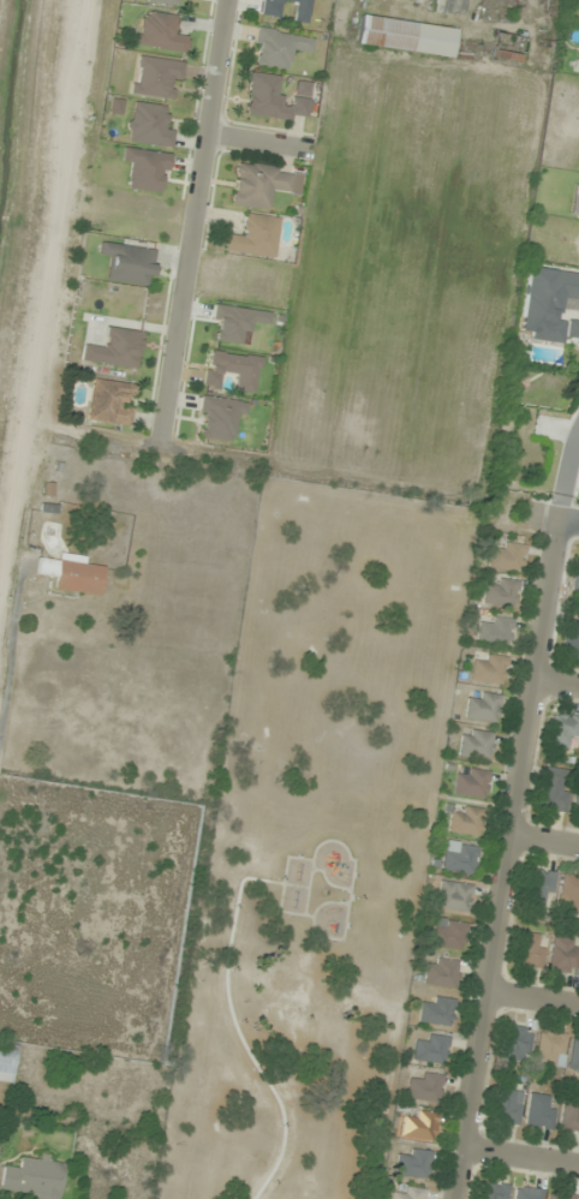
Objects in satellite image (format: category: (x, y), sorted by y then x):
building: (165, 2)
building: (160, 32)
building: (405, 36)
building: (276, 48)
building: (155, 77)
building: (276, 97)
building: (147, 125)
road: (257, 141)
building: (147, 169)
building: (261, 184)
road: (192, 217)
building: (253, 237)
building: (129, 263)
building: (115, 350)
building: (232, 370)
building: (109, 402)
building: (219, 417)
road: (566, 471)
road: (569, 517)
building: (506, 556)
building: (71, 573)
building: (575, 575)
building: (501, 593)
building: (496, 632)
building: (572, 638)
road: (10, 639)
building: (489, 669)
road: (555, 684)
building: (483, 706)
building: (563, 730)
building: (474, 745)
building: (470, 782)
building: (554, 789)
building: (575, 801)
building: (465, 821)
road: (545, 837)
park: (308, 847)
road: (508, 857)
building: (458, 858)
building: (541, 888)
building: (569, 893)
building: (453, 896)
building: (448, 933)
building: (530, 950)
building: (563, 955)
building: (441, 972)
road: (532, 997)
building: (436, 1010)
road: (229, 1015)
building: (517, 1043)
building: (550, 1048)
building: (432, 1049)
building: (574, 1054)
building: (6, 1064)
building: (426, 1087)
building: (507, 1105)
building: (541, 1111)
building: (569, 1116)
building: (420, 1126)
road: (520, 1156)
building: (414, 1163)
building: (35, 1177)
building: (493, 1191)
building: (526, 1193)
building: (411, 1194)
building: (560, 1195)

